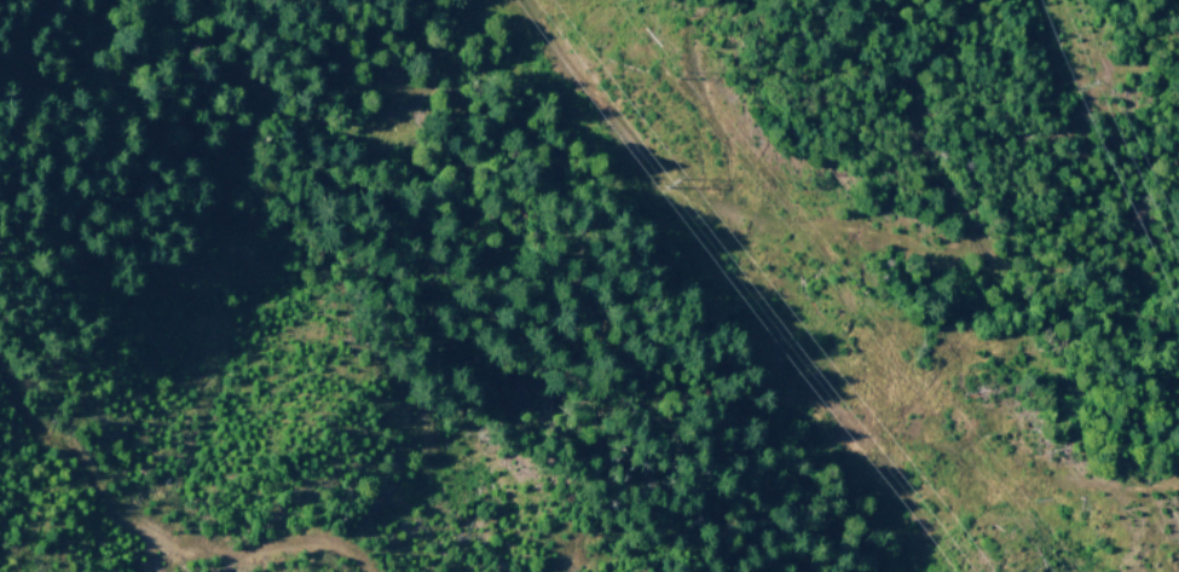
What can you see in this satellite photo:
power tower: (667, 181)

